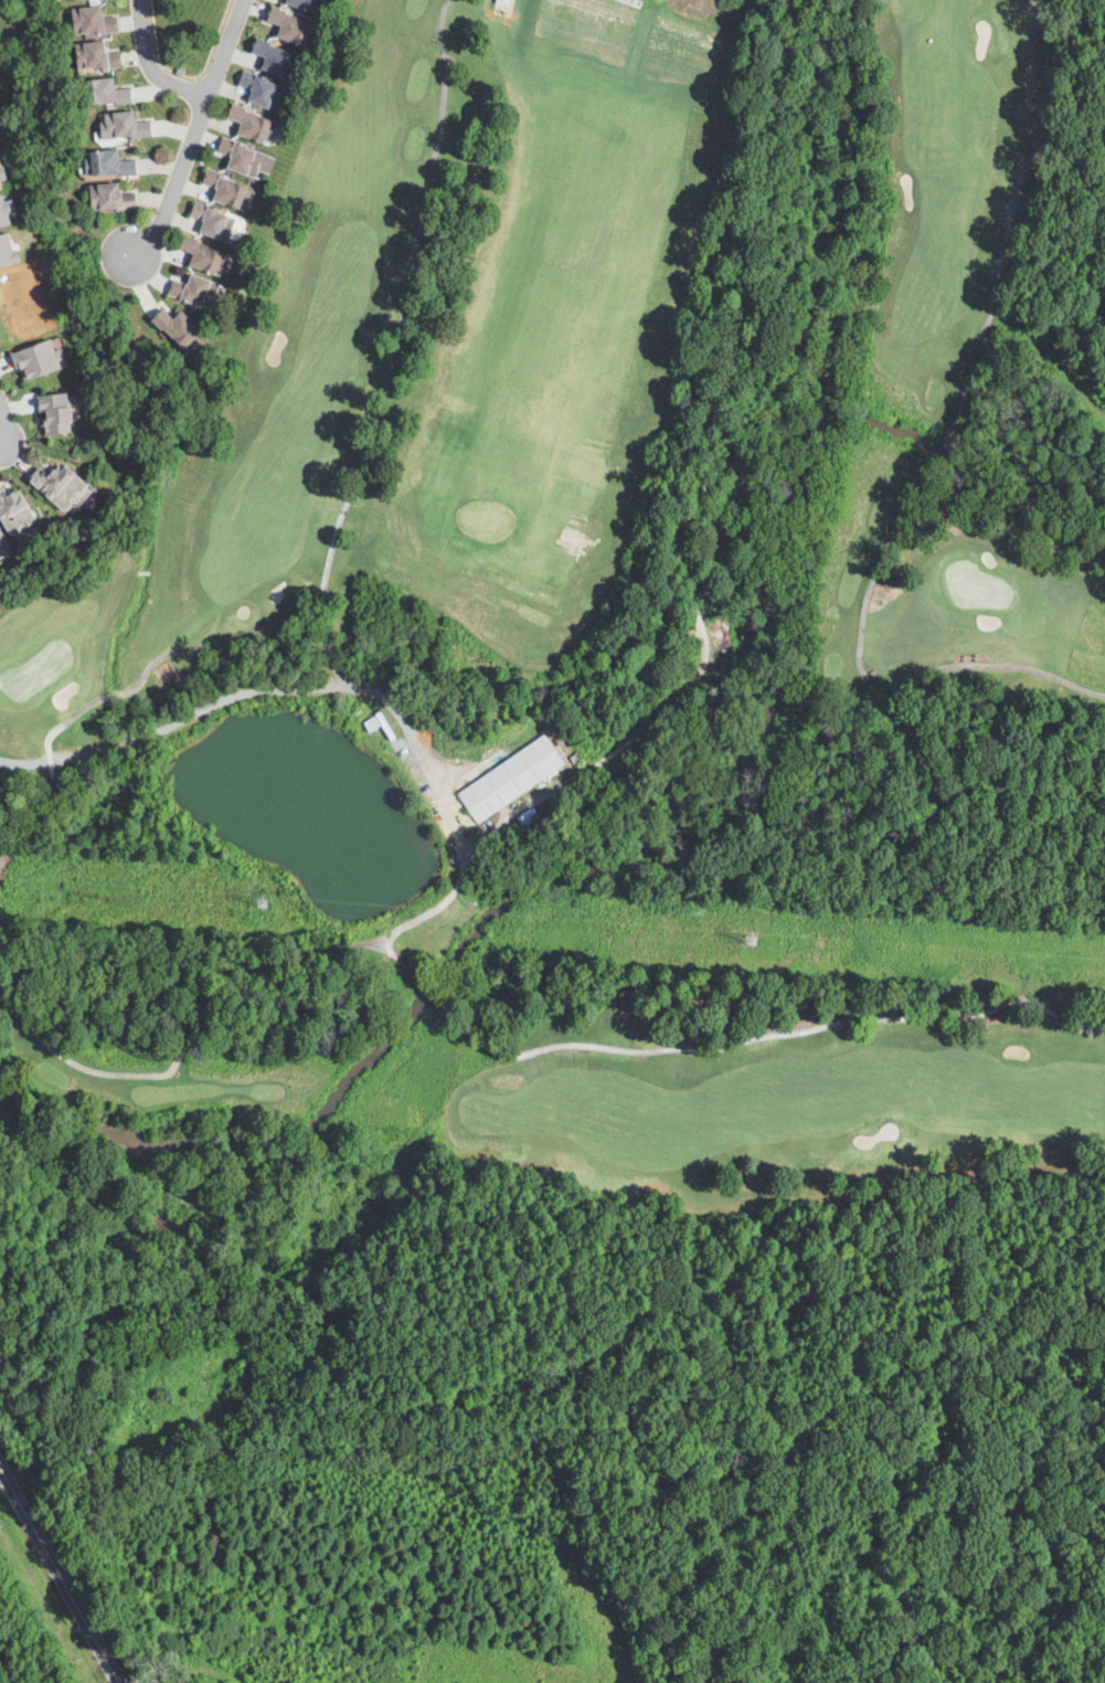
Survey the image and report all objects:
building: (67, 0)
building: (306, 4)
building: (95, 21)
building: (291, 25)
road: (224, 49)
building: (98, 56)
building: (277, 57)
road: (149, 65)
building: (263, 89)
building: (109, 93)
building: (254, 125)
building: (126, 126)
building: (245, 158)
building: (111, 163)
road: (174, 182)
building: (230, 190)
building: (113, 198)
building: (215, 221)
building: (205, 256)
building: (198, 292)
building: (183, 331)
road: (391, 359)
building: (32, 360)
building: (49, 414)
road: (4, 424)
road: (2, 447)
building: (63, 486)
building: (17, 510)
building: (4, 546)
park: (560, 615)
road: (233, 705)
building: (507, 777)
power tower: (261, 906)
power tower: (744, 941)
road: (60, 1574)

